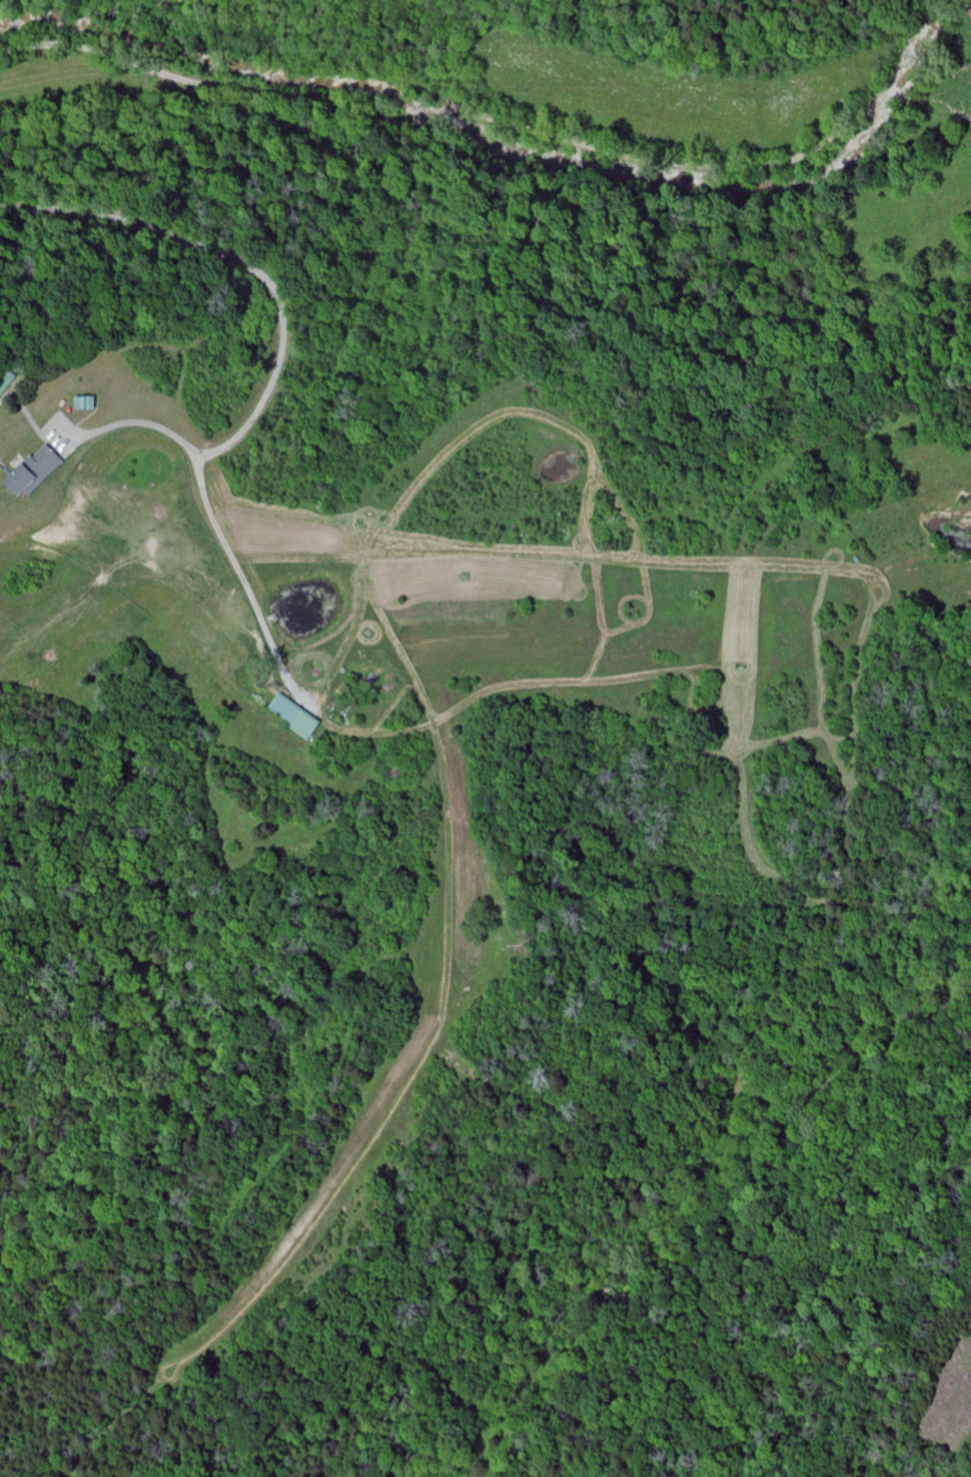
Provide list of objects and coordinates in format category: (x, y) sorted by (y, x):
road: (506, 124)
road: (276, 378)
building: (7, 382)
road: (144, 423)
building: (35, 473)
building: (296, 716)

